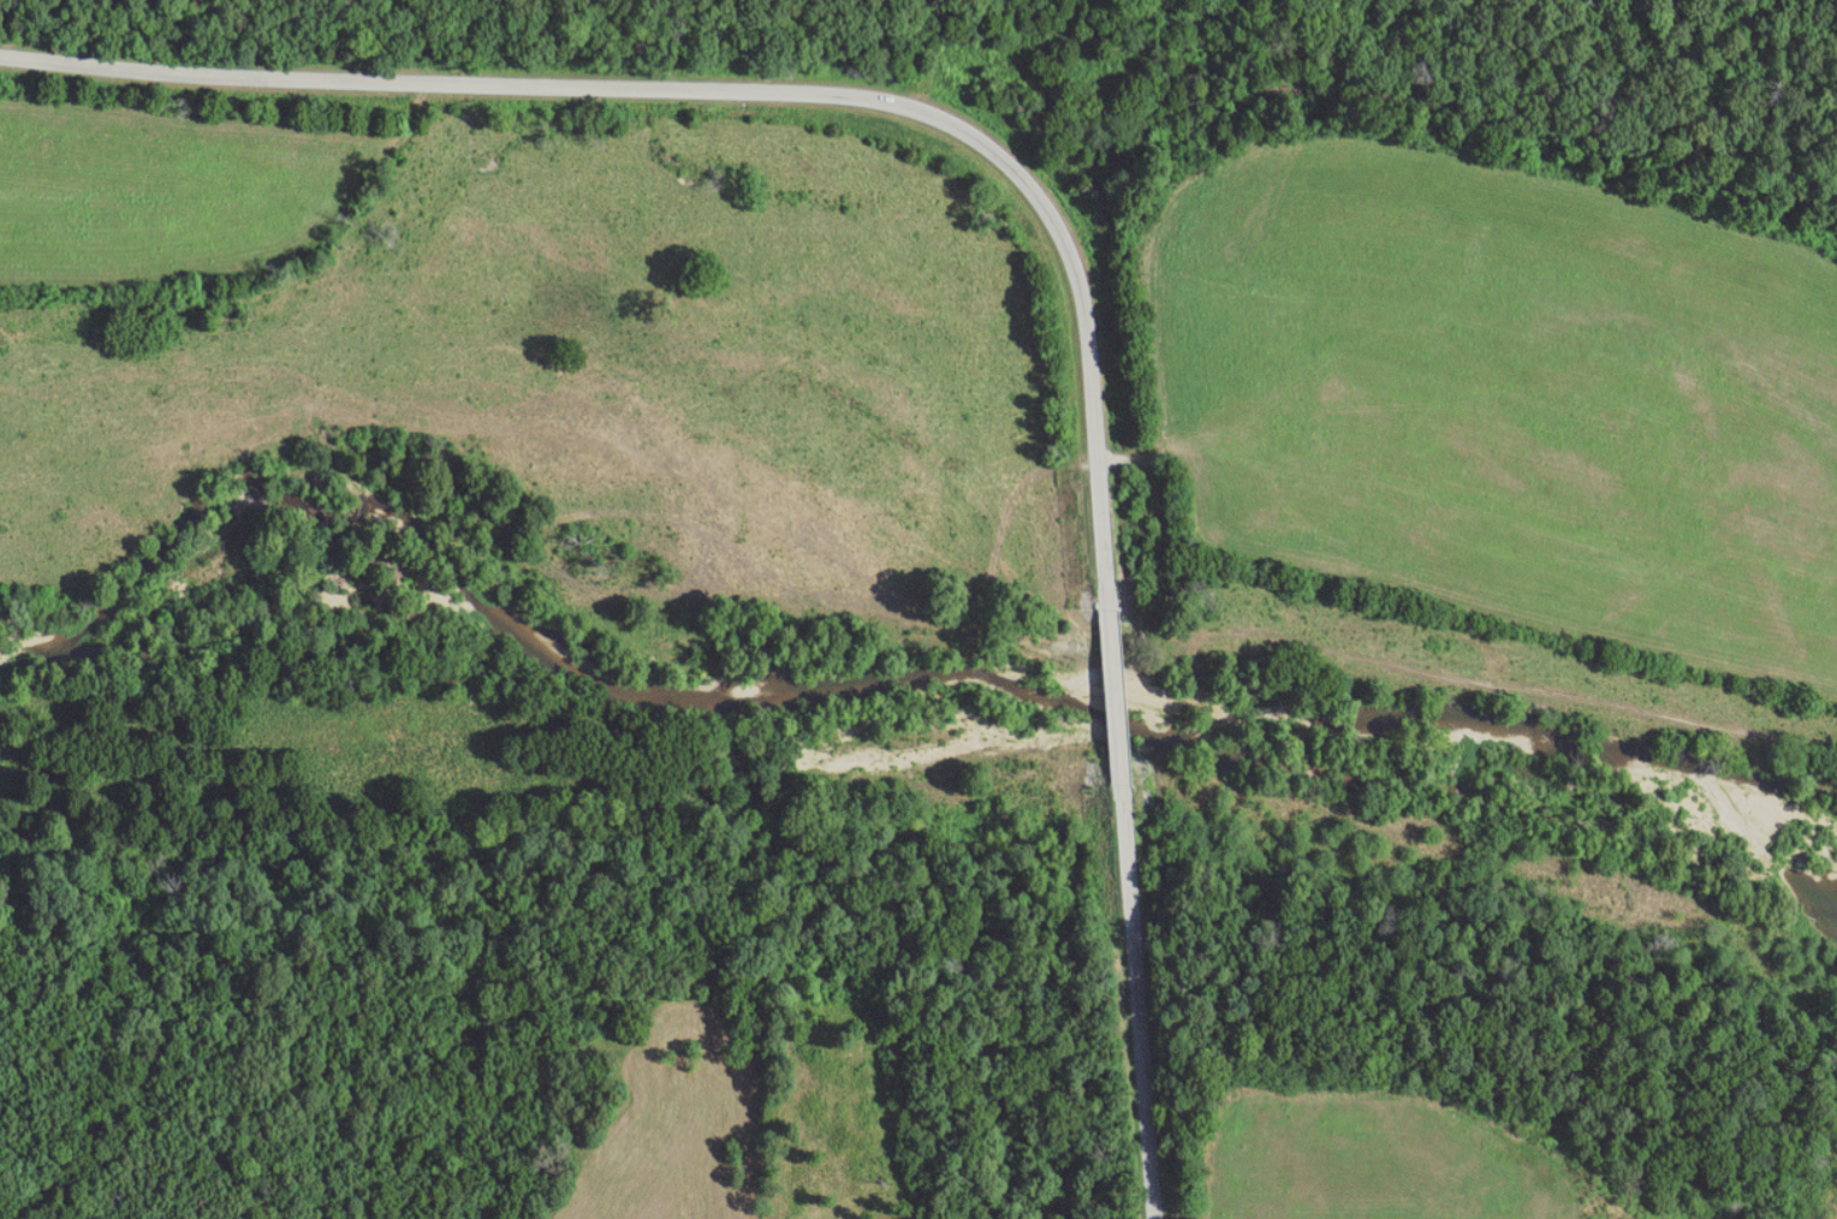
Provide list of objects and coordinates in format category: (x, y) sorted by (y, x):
road: (1029, 180)
road: (1474, 682)
road: (1082, 1211)

